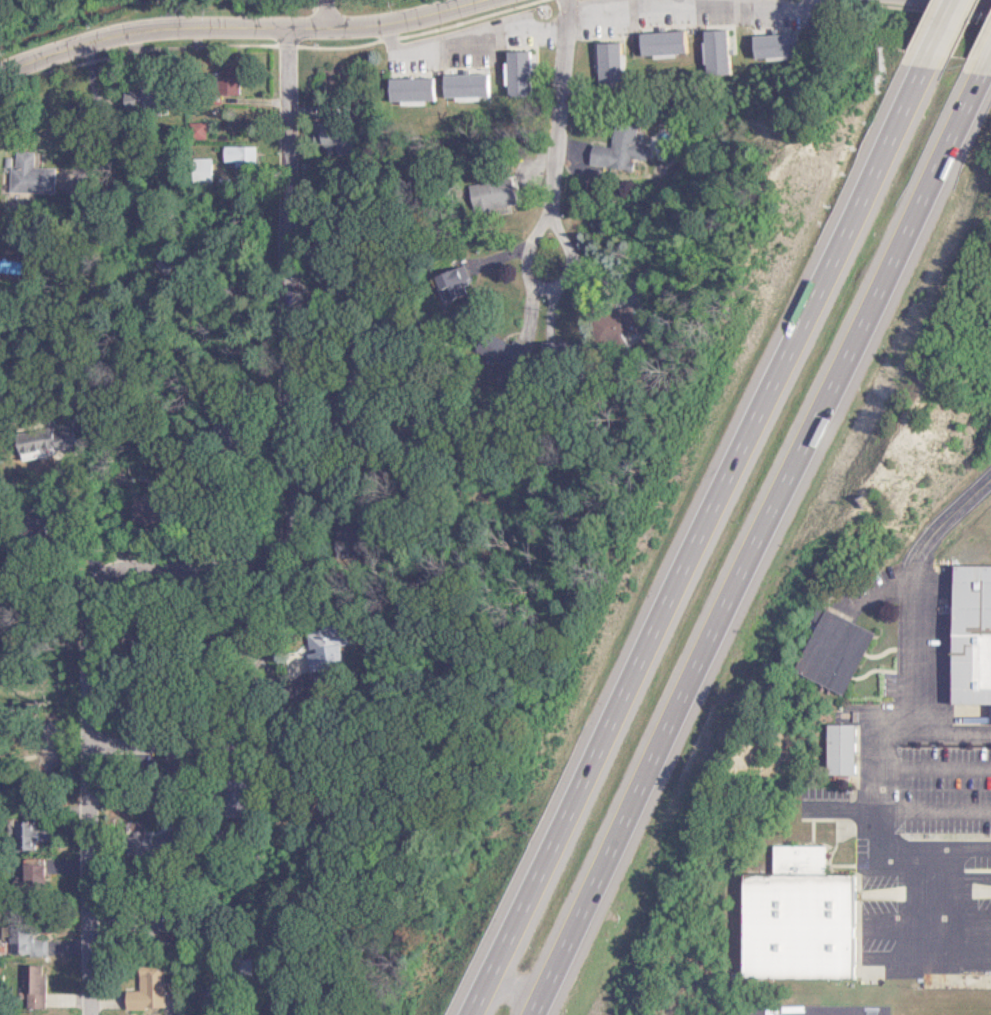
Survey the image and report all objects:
road: (882, 0)
road: (932, 7)
road: (317, 18)
road: (934, 31)
road: (250, 35)
building: (650, 43)
building: (764, 45)
building: (705, 52)
building: (598, 61)
road: (987, 63)
building: (508, 73)
building: (216, 84)
building: (429, 88)
road: (81, 121)
building: (185, 130)
road: (546, 130)
building: (611, 149)
building: (230, 155)
building: (21, 173)
building: (486, 195)
building: (451, 280)
building: (618, 320)
road: (738, 430)
road: (802, 444)
road: (946, 521)
road: (79, 530)
road: (227, 574)
building: (965, 636)
building: (332, 647)
building: (824, 651)
road: (893, 740)
building: (831, 749)
road: (179, 755)
road: (136, 791)
building: (137, 844)
road: (918, 845)
building: (26, 874)
road: (505, 906)
road: (574, 916)
building: (786, 917)
building: (19, 944)
road: (278, 965)
building: (141, 985)
building: (24, 986)

